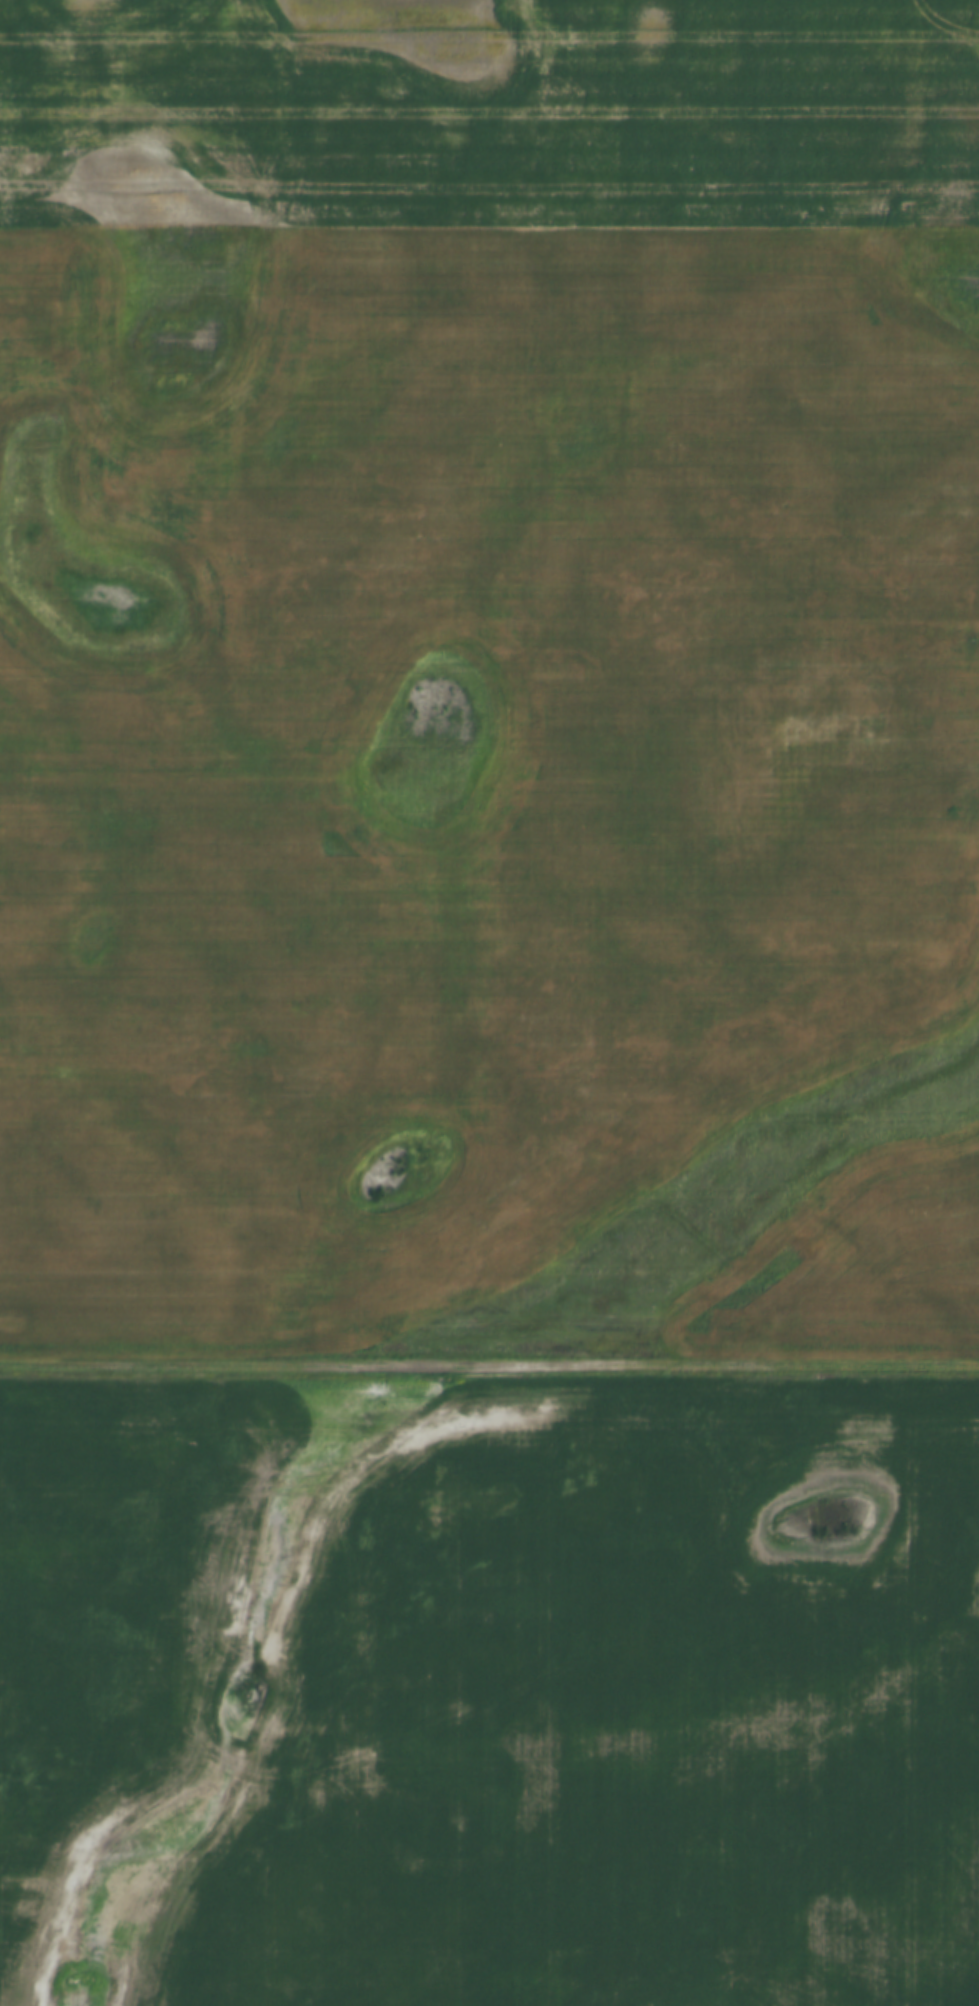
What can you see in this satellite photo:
road: (489, 1367)

